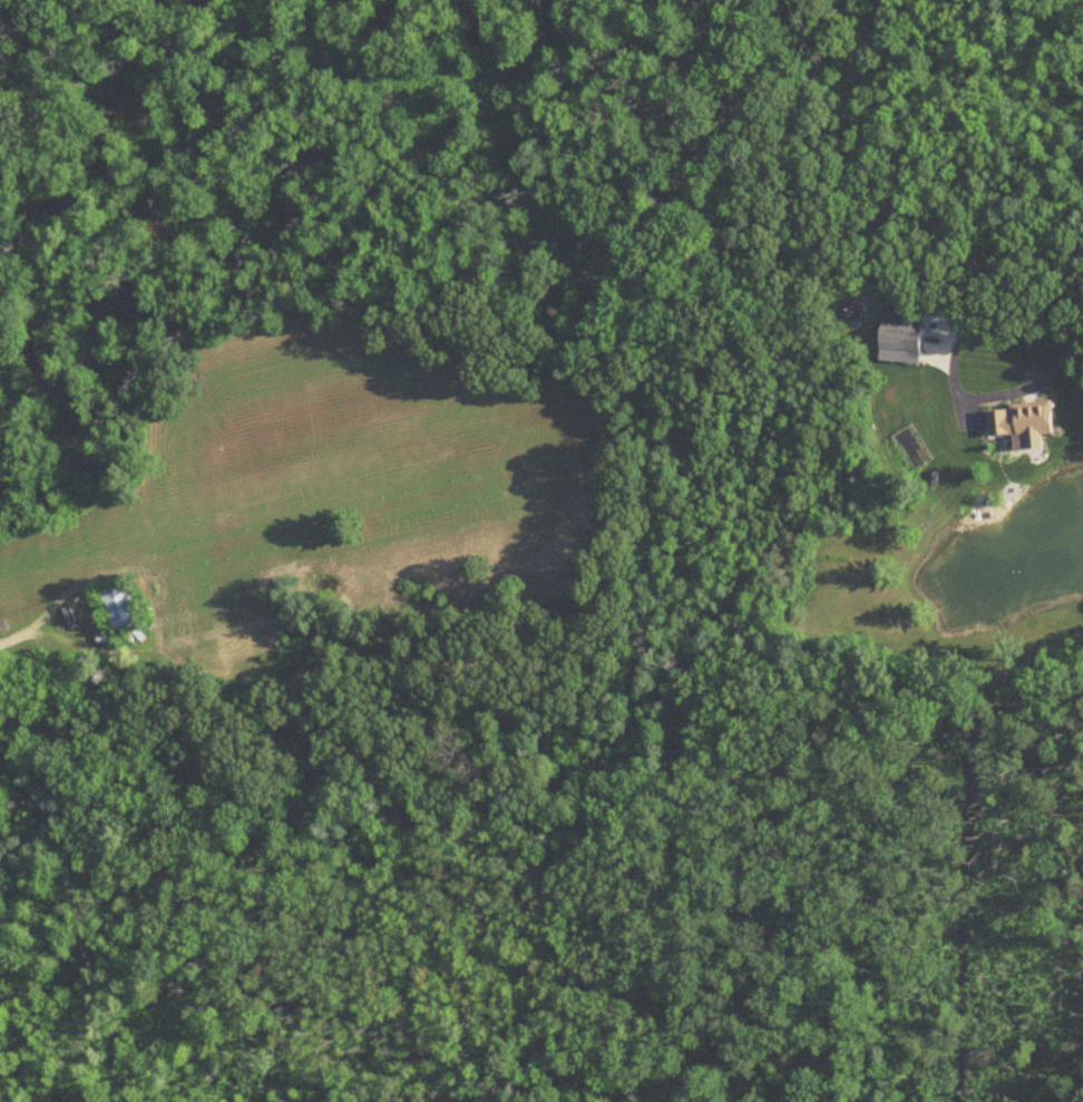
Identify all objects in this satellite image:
river: (447, 33)
river: (7, 43)
river: (123, 147)
road: (1081, 332)
road: (955, 378)
building: (1024, 422)
road: (414, 433)
building: (120, 608)

